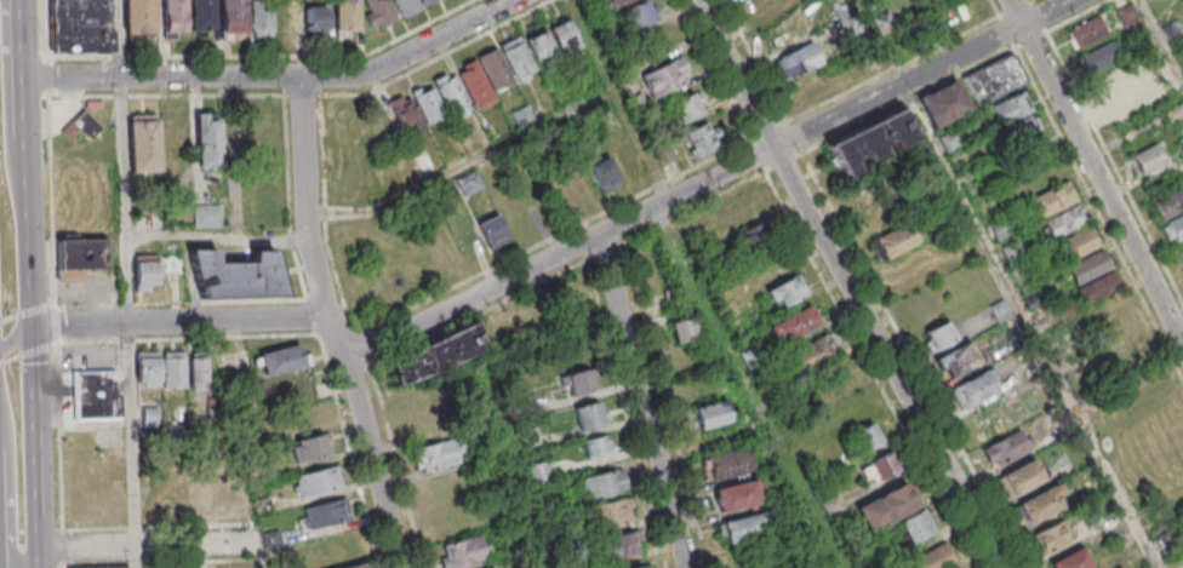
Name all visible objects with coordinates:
building: (926, 0)
building: (425, 1)
building: (619, 1)
building: (1182, 1)
building: (406, 6)
building: (765, 7)
building: (379, 13)
building: (232, 15)
building: (137, 16)
building: (199, 16)
building: (345, 16)
building: (638, 16)
building: (171, 17)
building: (259, 17)
building: (315, 17)
building: (287, 18)
road: (23, 22)
building: (80, 25)
road: (46, 29)
building: (1087, 34)
building: (562, 36)
road: (116, 39)
road: (1160, 44)
building: (544, 54)
building: (516, 57)
road: (269, 58)
building: (1099, 61)
building: (796, 63)
building: (495, 69)
road: (279, 78)
road: (48, 79)
building: (665, 79)
building: (991, 80)
building: (475, 85)
building: (1120, 88)
building: (452, 97)
road: (616, 101)
road: (25, 102)
building: (428, 103)
building: (943, 103)
building: (687, 108)
road: (7, 114)
building: (520, 115)
building: (407, 116)
building: (1017, 120)
building: (85, 126)
building: (1181, 137)
building: (870, 138)
building: (702, 139)
building: (949, 140)
building: (207, 142)
building: (143, 144)
building: (1031, 155)
building: (1145, 159)
road: (461, 165)
building: (604, 173)
road: (1095, 173)
building: (468, 183)
road: (29, 194)
road: (125, 201)
road: (52, 202)
building: (1057, 210)
building: (1171, 213)
building: (205, 214)
building: (492, 231)
building: (896, 240)
building: (1078, 243)
road: (30, 249)
road: (567, 251)
building: (81, 253)
building: (145, 272)
building: (235, 275)
building: (1092, 277)
road: (845, 285)
building: (787, 291)
road: (32, 293)
road: (480, 314)
road: (28, 315)
road: (33, 320)
road: (335, 323)
building: (795, 323)
road: (56, 325)
traffic signals: (33, 327)
road: (1024, 327)
building: (684, 329)
road: (18, 334)
building: (938, 335)
road: (185, 339)
building: (815, 351)
road: (28, 354)
building: (434, 356)
building: (281, 360)
building: (956, 360)
building: (147, 368)
building: (173, 369)
building: (198, 371)
building: (577, 381)
road: (745, 389)
building: (975, 389)
building: (96, 395)
road: (642, 401)
building: (713, 413)
road: (627, 414)
building: (590, 415)
road: (508, 432)
road: (133, 436)
road: (59, 437)
building: (865, 437)
building: (596, 446)
road: (36, 447)
building: (310, 447)
building: (1006, 447)
road: (350, 451)
building: (436, 455)
building: (725, 464)
building: (879, 467)
road: (399, 469)
building: (539, 471)
building: (1021, 477)
building: (315, 481)
building: (601, 484)
road: (10, 494)
building: (739, 494)
building: (201, 495)
building: (227, 497)
building: (1040, 503)
building: (831, 505)
building: (886, 506)
building: (322, 514)
building: (608, 515)
building: (915, 526)
building: (743, 527)
building: (1053, 535)
building: (618, 545)
road: (148, 546)
road: (63, 549)
building: (461, 552)
road: (136, 557)
building: (933, 557)
building: (1070, 560)
building: (355, 566)
building: (640, 566)
building: (99, 567)
building: (491, 567)
building: (956, 567)

